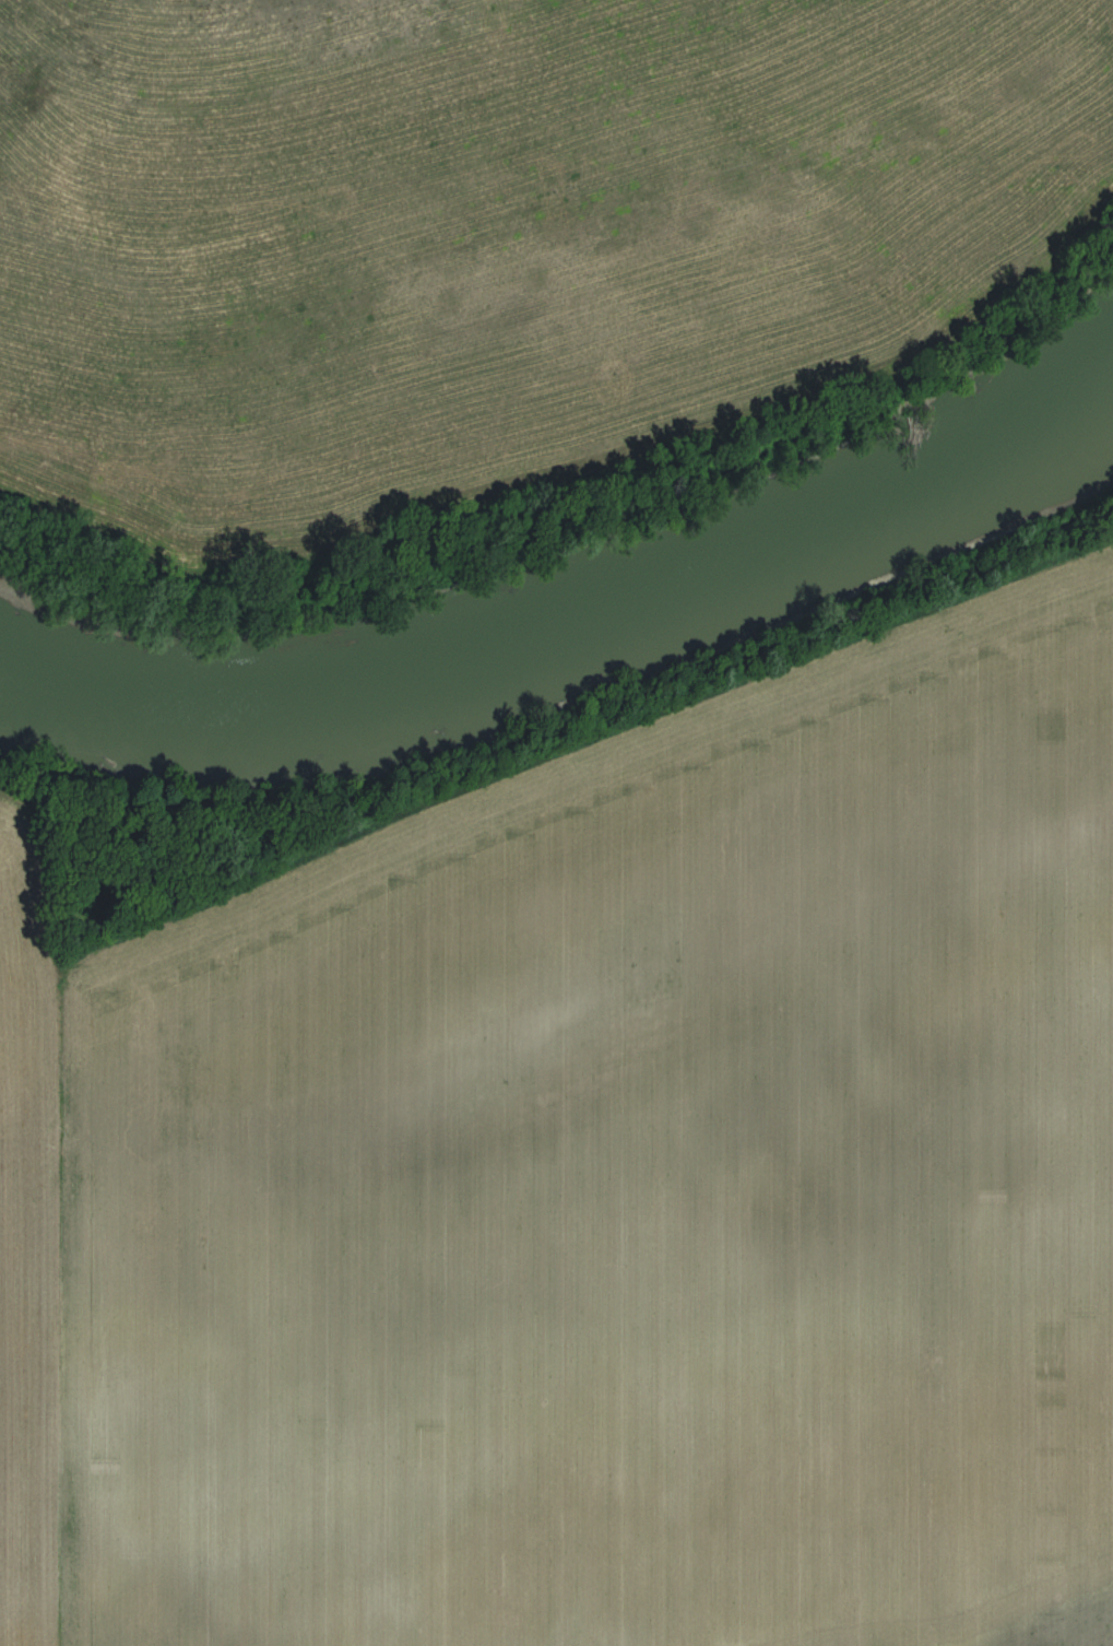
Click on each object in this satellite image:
crop: (501, 232)
river: (584, 619)
crop: (631, 1183)
crop: (26, 1250)

